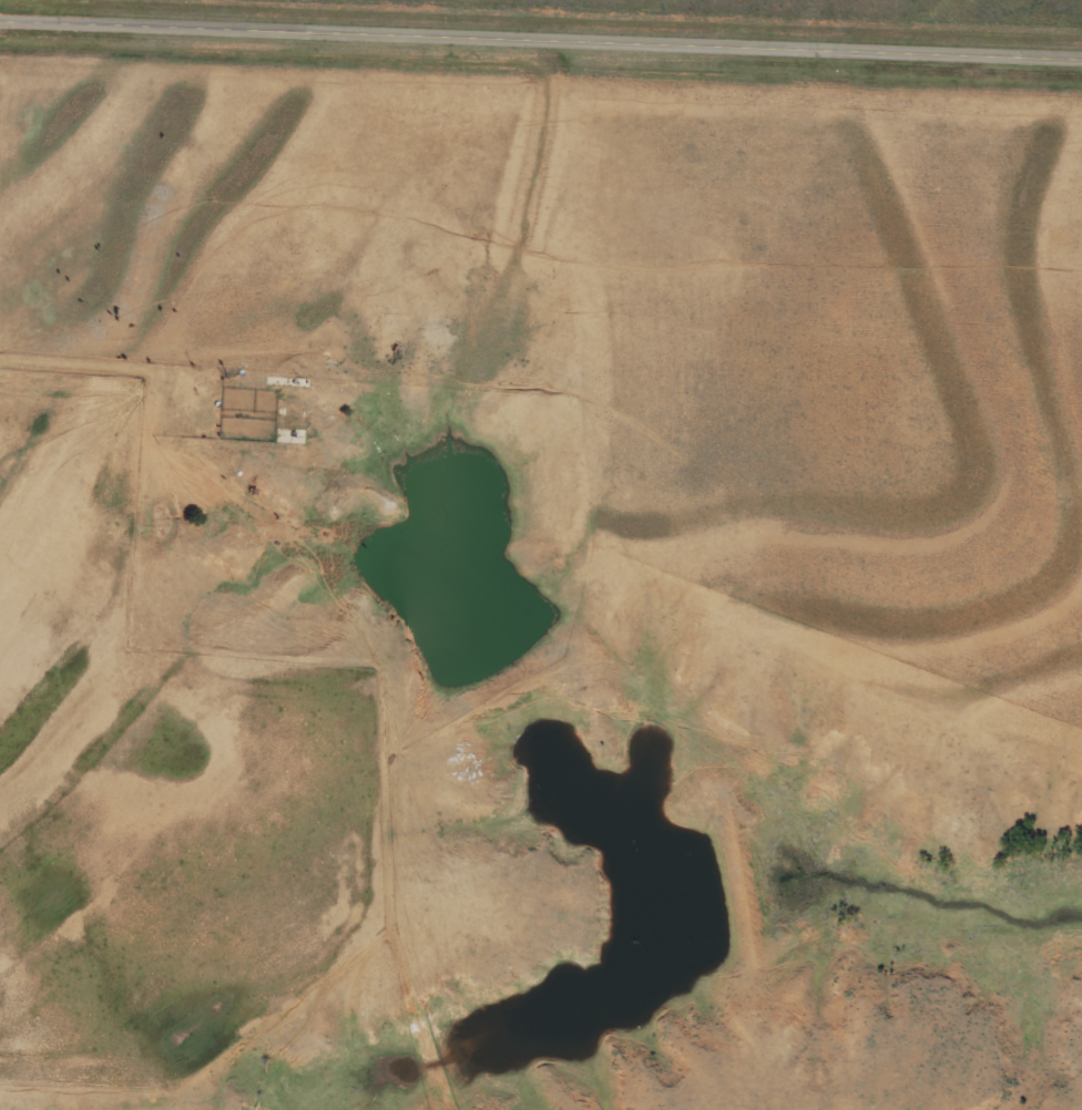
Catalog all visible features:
road: (541, 34)
road: (541, 321)

